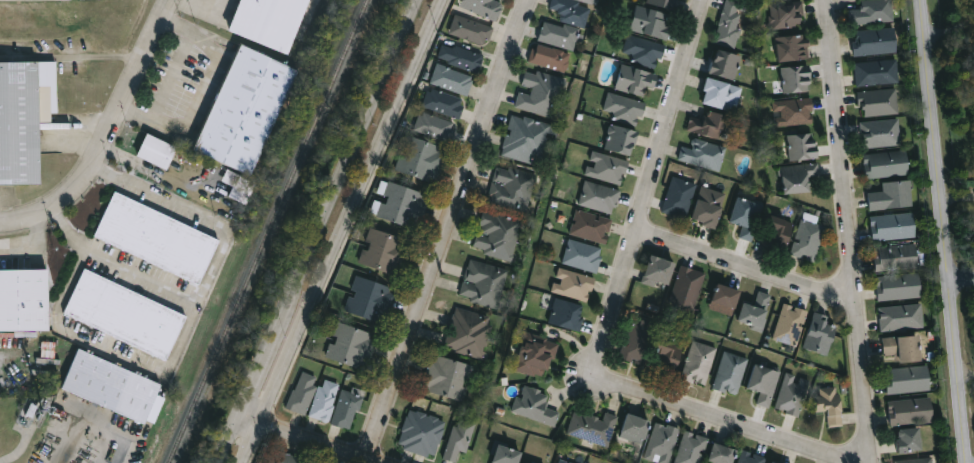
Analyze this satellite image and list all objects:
building: (503, 0)
building: (662, 3)
building: (484, 7)
building: (572, 11)
building: (873, 13)
building: (784, 16)
building: (271, 21)
building: (649, 23)
building: (727, 23)
building: (471, 31)
road: (950, 31)
building: (557, 36)
building: (876, 42)
building: (791, 49)
building: (641, 52)
building: (461, 58)
building: (549, 59)
building: (724, 66)
building: (878, 73)
building: (794, 80)
building: (453, 81)
building: (634, 82)
road: (205, 90)
building: (539, 95)
building: (720, 96)
building: (880, 103)
building: (445, 104)
building: (623, 109)
building: (248, 111)
building: (791, 113)
building: (25, 119)
building: (708, 126)
building: (435, 127)
building: (881, 134)
road: (107, 135)
building: (620, 140)
building: (526, 141)
building: (802, 148)
building: (159, 153)
building: (701, 154)
building: (421, 160)
road: (348, 163)
building: (887, 165)
building: (606, 169)
building: (797, 179)
building: (239, 187)
building: (512, 188)
building: (893, 197)
building: (598, 198)
building: (678, 198)
building: (400, 205)
building: (708, 208)
building: (746, 217)
building: (591, 227)
building: (894, 227)
road: (446, 230)
railway: (267, 231)
road: (344, 231)
road: (850, 231)
road: (944, 231)
building: (779, 232)
building: (498, 236)
building: (158, 239)
building: (807, 241)
road: (34, 249)
building: (383, 252)
building: (583, 257)
building: (897, 258)
road: (746, 268)
building: (659, 272)
road: (961, 275)
road: (206, 278)
building: (484, 284)
building: (574, 285)
building: (900, 287)
building: (687, 288)
building: (727, 296)
building: (25, 300)
building: (371, 300)
building: (756, 312)
building: (126, 315)
building: (568, 315)
building: (902, 318)
road: (609, 323)
building: (790, 325)
building: (25, 334)
building: (470, 334)
building: (821, 335)
building: (637, 343)
building: (353, 347)
building: (904, 349)
road: (111, 351)
building: (536, 357)
building: (668, 357)
building: (699, 364)
road: (261, 373)
building: (730, 374)
road: (966, 374)
building: (448, 378)
building: (909, 381)
building: (764, 384)
building: (114, 387)
building: (302, 393)
building: (792, 395)
building: (324, 401)
building: (831, 405)
building: (536, 407)
building: (347, 408)
building: (912, 412)
road: (115, 424)
building: (594, 428)
building: (636, 428)
building: (423, 434)
building: (461, 440)
road: (231, 441)
road: (304, 441)
building: (912, 441)
building: (662, 444)
building: (692, 448)
building: (722, 454)
building: (507, 455)
building: (287, 458)
building: (751, 458)
building: (917, 461)
building: (561, 462)
building: (771, 462)
building: (774, 462)

